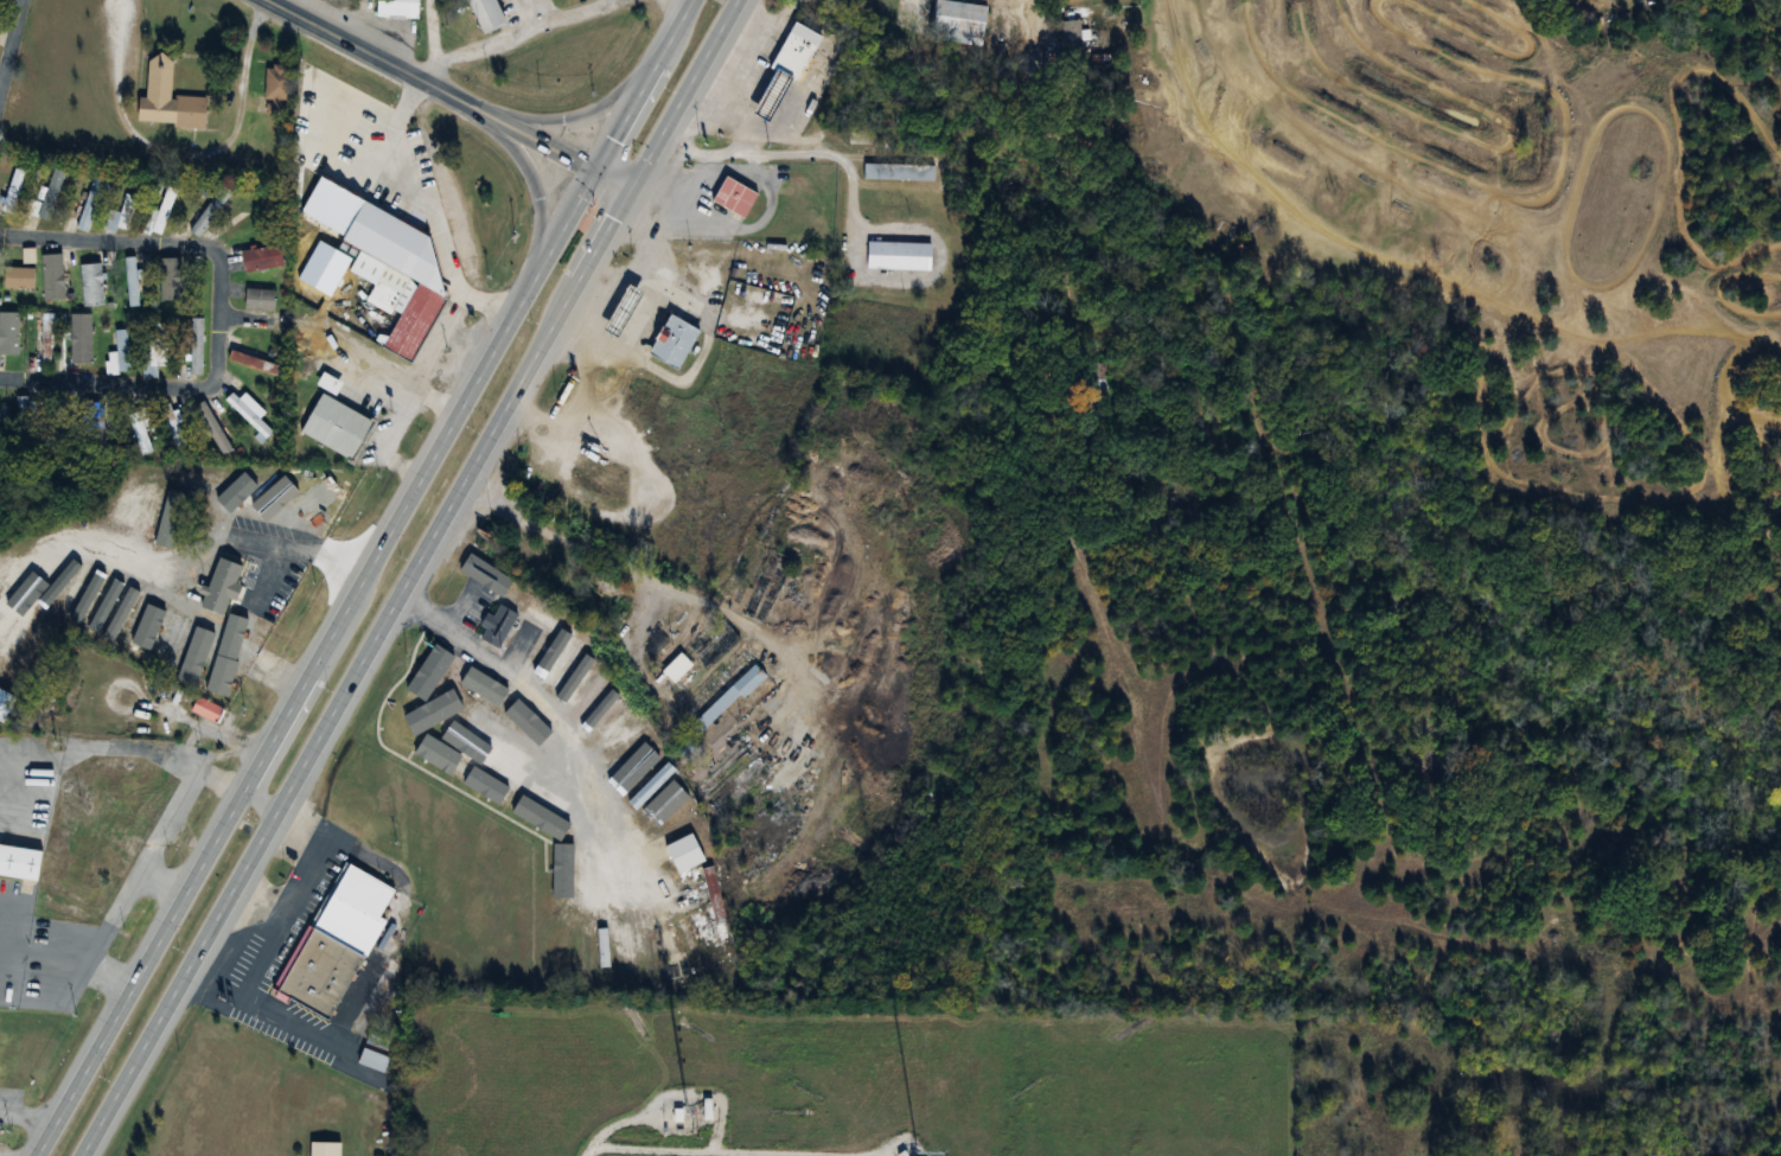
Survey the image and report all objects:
road: (1001, 5)
building: (395, 8)
building: (485, 15)
building: (957, 18)
road: (770, 21)
road: (9, 33)
building: (1068, 38)
road: (441, 43)
building: (792, 52)
building: (275, 90)
road: (454, 94)
road: (687, 94)
road: (732, 96)
building: (166, 100)
building: (770, 100)
gas station: (770, 100)
road: (575, 115)
road: (787, 147)
road: (183, 151)
road: (1048, 165)
building: (898, 172)
traffic signals: (604, 175)
road: (532, 185)
traffic signals: (633, 189)
building: (12, 192)
building: (50, 196)
building: (733, 198)
road: (417, 202)
building: (88, 206)
building: (162, 211)
building: (251, 215)
building: (120, 216)
building: (206, 217)
building: (896, 255)
building: (260, 260)
building: (52, 277)
building: (18, 279)
building: (168, 280)
building: (130, 282)
building: (90, 286)
building: (628, 299)
building: (258, 300)
building: (392, 309)
building: (620, 313)
gas station: (620, 313)
road: (217, 318)
road: (240, 318)
building: (8, 334)
building: (43, 339)
building: (79, 339)
road: (440, 339)
building: (670, 341)
building: (194, 347)
building: (155, 350)
building: (117, 356)
building: (253, 363)
road: (383, 370)
building: (327, 383)
building: (25, 413)
building: (248, 414)
building: (91, 423)
building: (171, 426)
building: (334, 426)
building: (211, 428)
building: (139, 432)
road: (383, 443)
road: (317, 548)
road: (620, 562)
building: (489, 570)
road: (365, 576)
building: (146, 620)
building: (493, 627)
building: (12, 654)
building: (551, 665)
building: (678, 671)
road: (356, 672)
building: (426, 678)
building: (575, 682)
building: (449, 692)
building: (717, 698)
building: (205, 709)
building: (594, 711)
building: (492, 716)
road: (535, 717)
building: (397, 723)
building: (612, 735)
building: (430, 741)
road: (97, 747)
building: (464, 752)
building: (500, 754)
building: (631, 766)
building: (544, 779)
building: (120, 785)
building: (499, 787)
building: (644, 790)
road: (262, 797)
building: (534, 817)
building: (55, 868)
road: (139, 868)
building: (560, 868)
road: (160, 884)
building: (713, 894)
building: (352, 911)
building: (591, 921)
building: (614, 930)
building: (639, 938)
road: (42, 951)
building: (317, 975)
building: (371, 1060)
road: (27, 1115)
building: (323, 1148)

